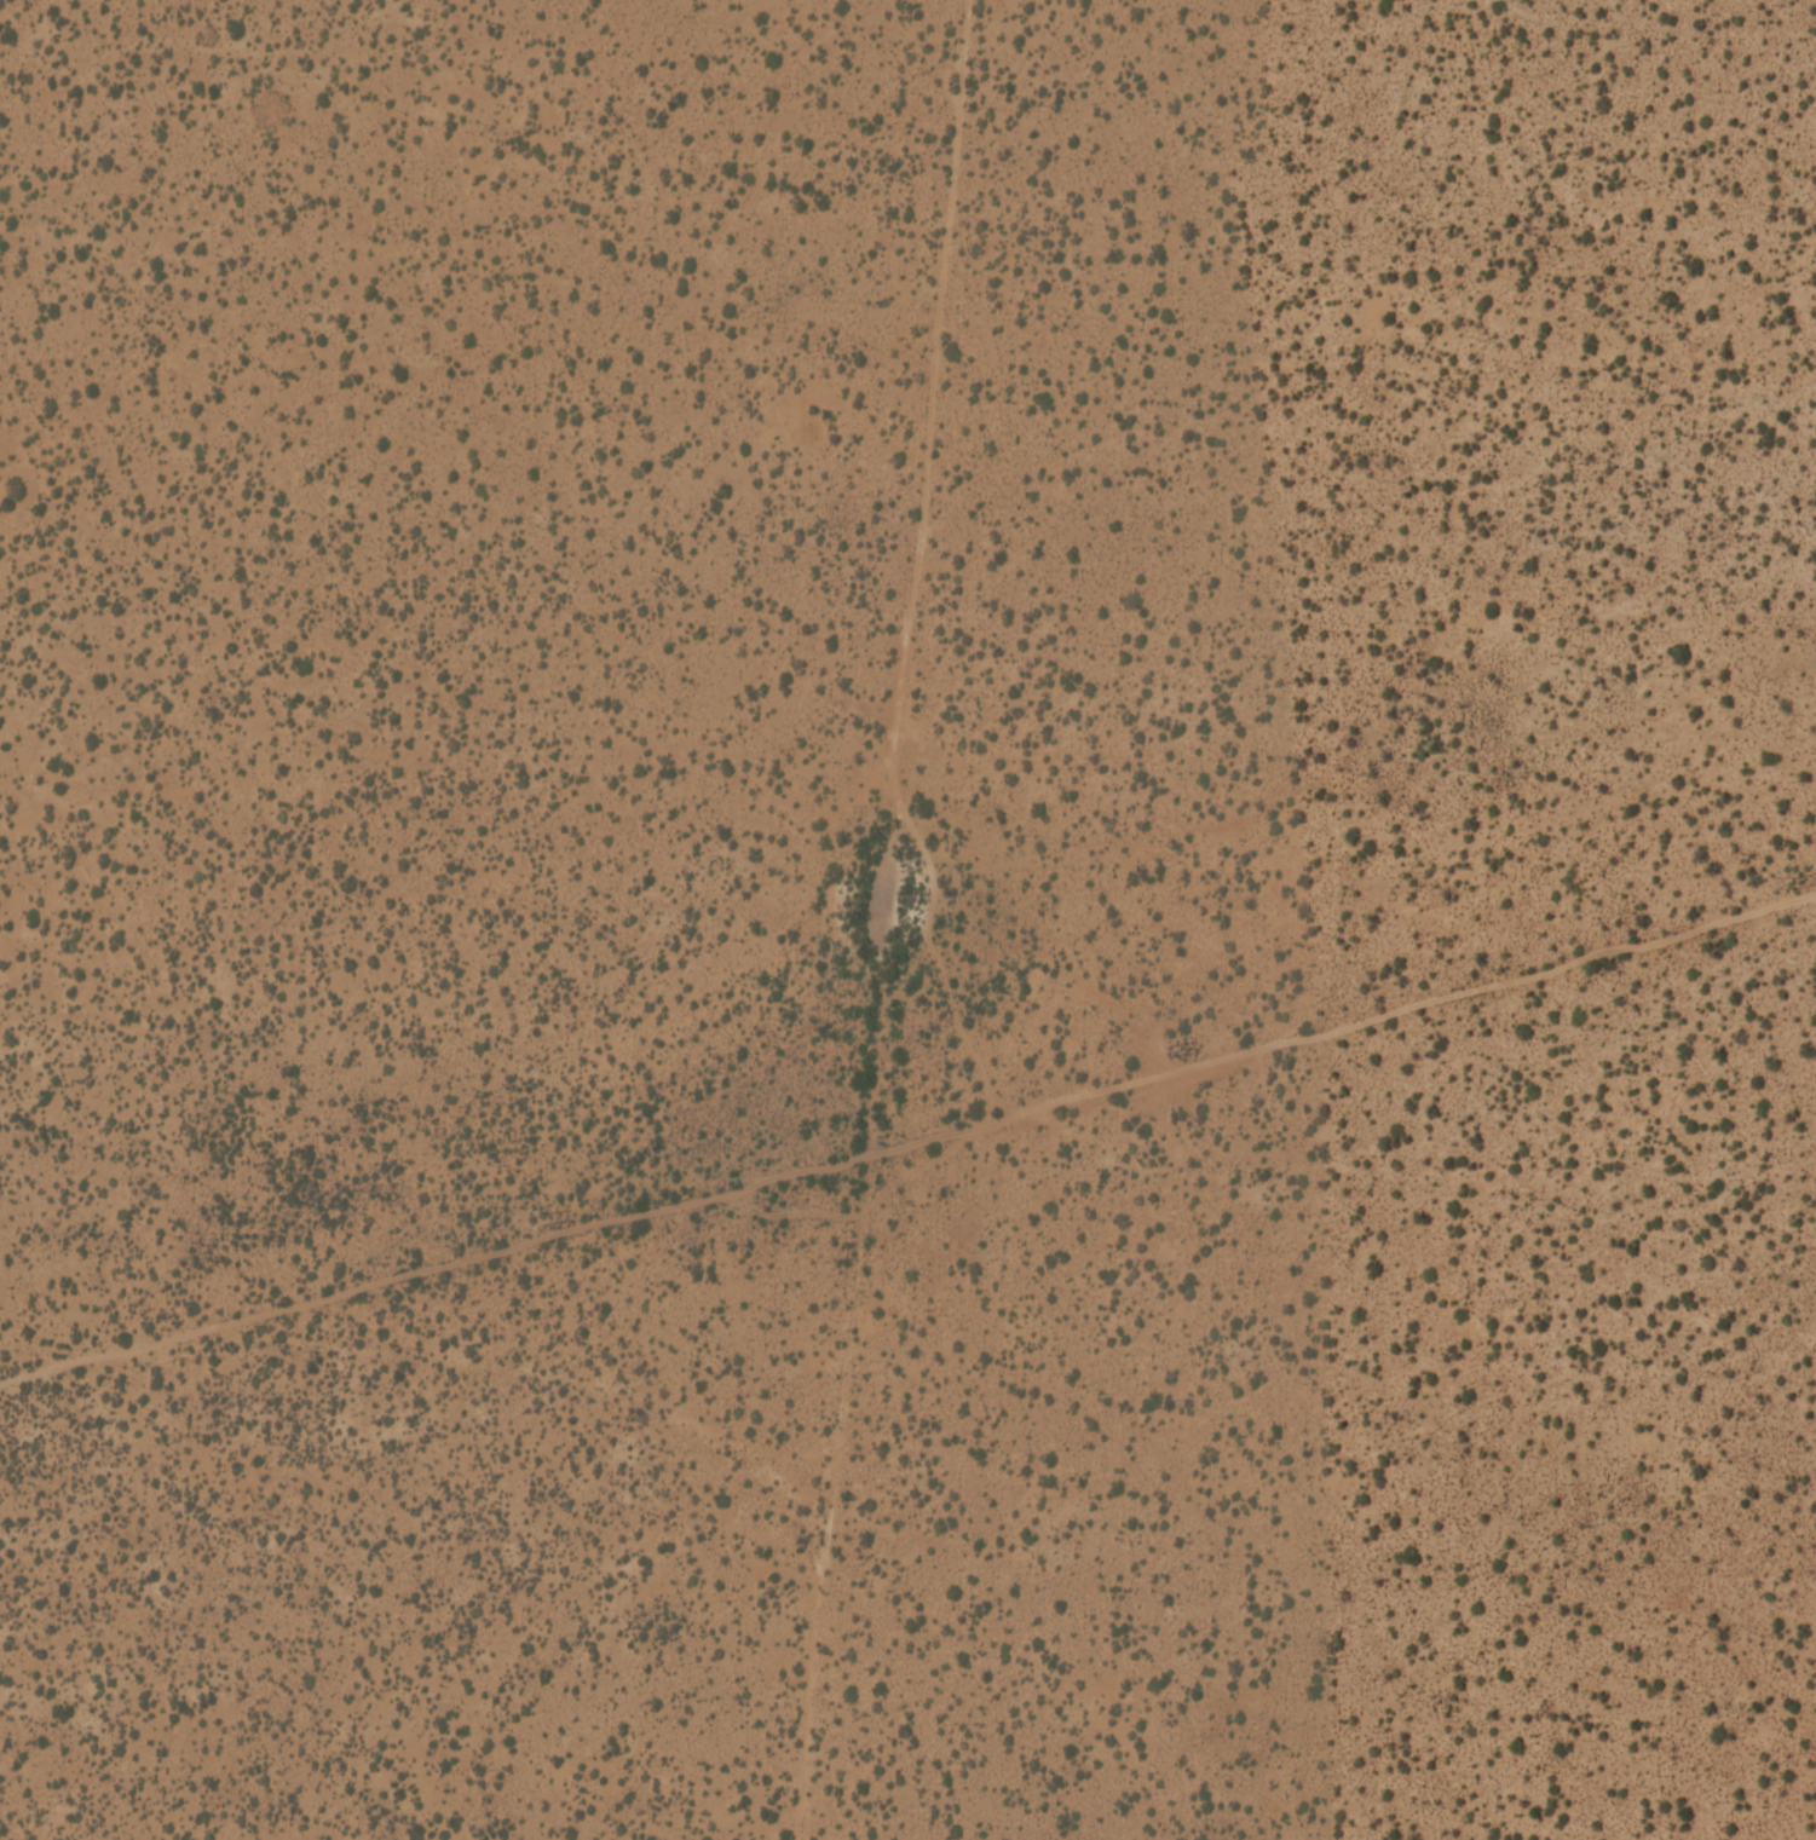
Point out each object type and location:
power tower: (1795, 884)
road: (882, 918)
power tower: (1172, 1052)
road: (909, 1182)
power tower: (538, 1221)

